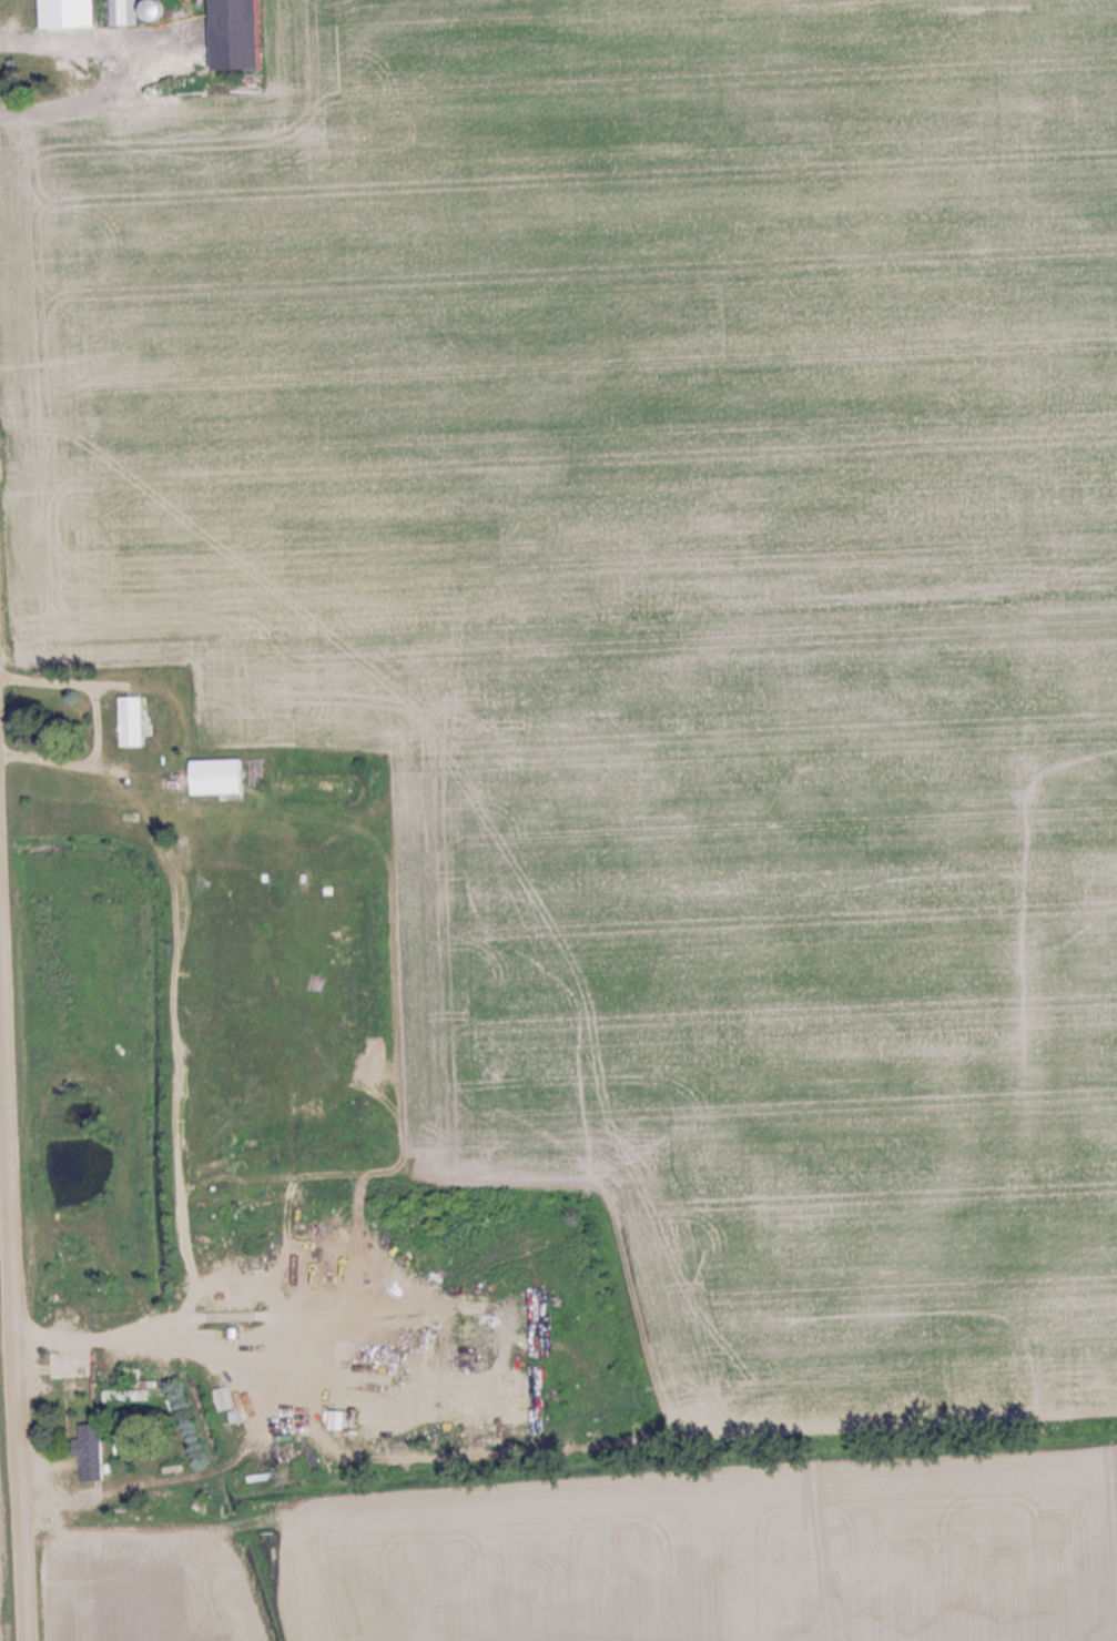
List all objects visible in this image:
building: (90, 13)
building: (241, 36)
building: (135, 721)
building: (123, 768)
building: (221, 776)
building: (83, 1376)
road: (10, 1381)
building: (94, 1451)

